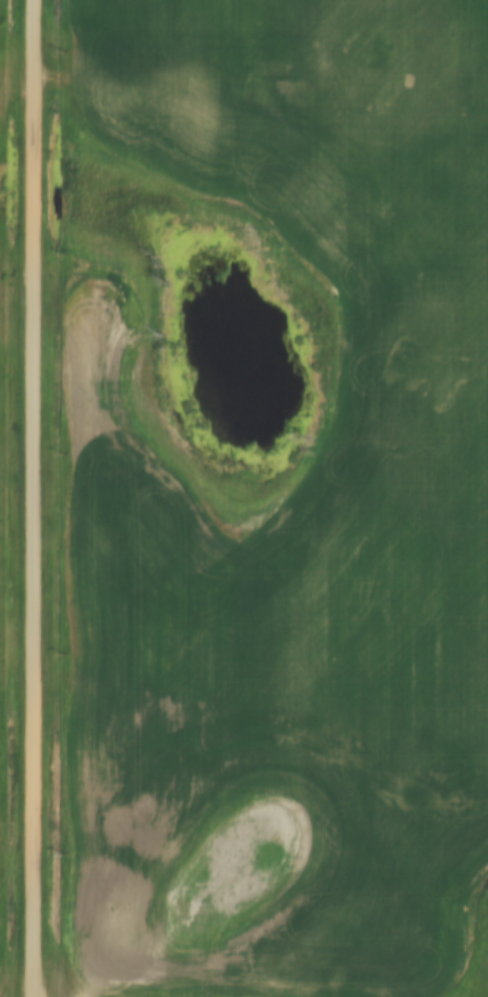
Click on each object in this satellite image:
road: (32, 498)

